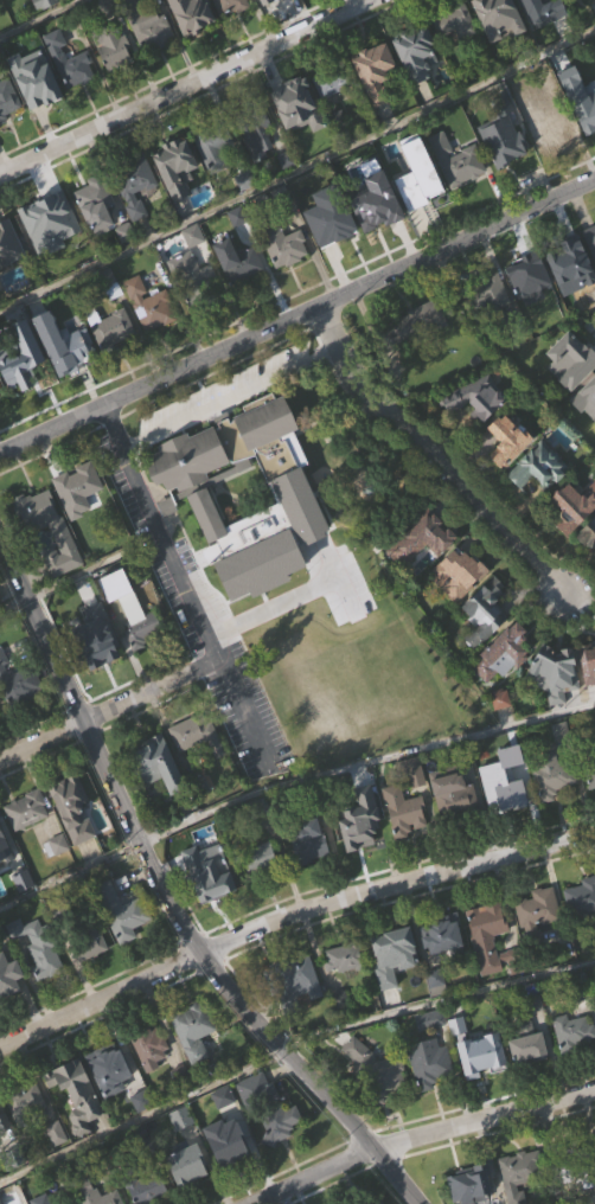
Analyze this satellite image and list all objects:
building: (346, 2)
building: (45, 4)
building: (532, 5)
building: (230, 6)
building: (309, 6)
building: (19, 8)
building: (493, 9)
building: (576, 12)
building: (268, 14)
building: (192, 15)
road: (41, 19)
building: (455, 21)
building: (535, 25)
building: (147, 27)
building: (225, 27)
building: (45, 32)
building: (191, 44)
building: (111, 47)
building: (499, 50)
building: (417, 52)
building: (455, 57)
building: (68, 60)
building: (152, 63)
building: (376, 72)
building: (545, 78)
building: (333, 79)
building: (116, 85)
building: (43, 87)
road: (184, 87)
building: (418, 90)
building: (70, 96)
building: (7, 100)
building: (503, 100)
building: (299, 104)
building: (376, 107)
building: (584, 108)
building: (37, 114)
building: (333, 117)
building: (545, 123)
building: (254, 127)
building: (8, 134)
building: (297, 140)
building: (587, 143)
building: (212, 145)
building: (505, 148)
building: (550, 161)
building: (456, 162)
building: (177, 167)
building: (258, 171)
road: (296, 173)
building: (506, 177)
building: (217, 178)
building: (416, 184)
building: (135, 185)
building: (94, 197)
building: (462, 199)
building: (178, 201)
building: (375, 205)
building: (247, 214)
building: (41, 218)
building: (135, 222)
building: (377, 237)
building: (97, 239)
building: (590, 239)
building: (284, 246)
building: (330, 252)
building: (51, 257)
building: (565, 258)
building: (123, 260)
building: (238, 263)
building: (590, 273)
building: (9, 280)
building: (191, 280)
building: (529, 280)
building: (286, 282)
building: (568, 296)
building: (239, 297)
building: (488, 301)
building: (149, 306)
building: (194, 309)
building: (529, 314)
road: (297, 315)
building: (412, 326)
building: (492, 328)
building: (110, 331)
building: (151, 339)
building: (535, 352)
building: (415, 360)
building: (114, 363)
building: (17, 365)
building: (65, 378)
road: (226, 392)
building: (571, 395)
building: (478, 396)
building: (0, 425)
building: (476, 433)
building: (587, 434)
building: (512, 438)
road: (436, 454)
building: (542, 465)
building: (508, 474)
building: (179, 475)
building: (593, 485)
building: (77, 487)
building: (539, 501)
building: (575, 506)
building: (79, 524)
building: (589, 533)
building: (63, 538)
building: (421, 539)
building: (168, 540)
building: (206, 546)
building: (60, 563)
building: (588, 570)
building: (459, 572)
building: (423, 574)
road: (183, 588)
road: (13, 606)
road: (276, 607)
building: (459, 608)
building: (485, 611)
building: (117, 620)
building: (143, 628)
building: (96, 646)
building: (486, 646)
building: (503, 651)
building: (588, 662)
building: (145, 664)
road: (198, 666)
building: (98, 672)
building: (555, 672)
building: (18, 683)
building: (590, 700)
building: (555, 707)
building: (17, 717)
road: (89, 718)
building: (193, 731)
building: (501, 734)
building: (158, 763)
road: (365, 764)
building: (590, 768)
building: (198, 769)
building: (411, 770)
building: (552, 777)
building: (504, 784)
building: (158, 796)
building: (455, 798)
building: (71, 806)
building: (590, 807)
building: (25, 809)
building: (554, 811)
building: (404, 812)
building: (504, 819)
building: (0, 820)
building: (454, 827)
building: (358, 832)
building: (1, 833)
building: (309, 841)
building: (75, 843)
building: (27, 844)
building: (405, 846)
building: (261, 860)
building: (362, 867)
building: (205, 872)
road: (69, 875)
building: (312, 877)
building: (57, 879)
building: (5, 882)
building: (261, 892)
building: (581, 897)
road: (168, 898)
building: (206, 908)
building: (121, 911)
building: (25, 915)
road: (287, 915)
building: (536, 915)
building: (582, 931)
building: (442, 933)
building: (88, 940)
building: (492, 940)
building: (392, 944)
building: (38, 946)
building: (122, 947)
building: (539, 948)
building: (346, 956)
building: (444, 968)
building: (6, 971)
building: (488, 971)
building: (89, 976)
building: (39, 981)
building: (293, 982)
building: (394, 988)
building: (344, 992)
road: (436, 998)
building: (9, 1010)
building: (297, 1013)
building: (429, 1019)
building: (193, 1029)
building: (572, 1031)
building: (527, 1043)
building: (148, 1046)
building: (481, 1058)
building: (459, 1059)
building: (429, 1062)
building: (192, 1067)
building: (572, 1067)
building: (375, 1070)
building: (111, 1071)
building: (529, 1080)
building: (152, 1082)
building: (77, 1093)
building: (430, 1097)
building: (23, 1101)
building: (110, 1102)
building: (380, 1107)
road: (141, 1115)
building: (279, 1123)
building: (0, 1126)
building: (260, 1126)
building: (77, 1127)
building: (224, 1132)
road: (426, 1135)
building: (27, 1136)
building: (232, 1147)
building: (183, 1152)
building: (281, 1159)
building: (2, 1161)
building: (572, 1165)
building: (57, 1167)
building: (187, 1168)
building: (518, 1173)
building: (228, 1177)
building: (471, 1184)
building: (145, 1187)
building: (95, 1193)
building: (188, 1193)
building: (522, 1196)
building: (365, 1198)
building: (39, 1199)
building: (484, 1200)
building: (159, 1203)

